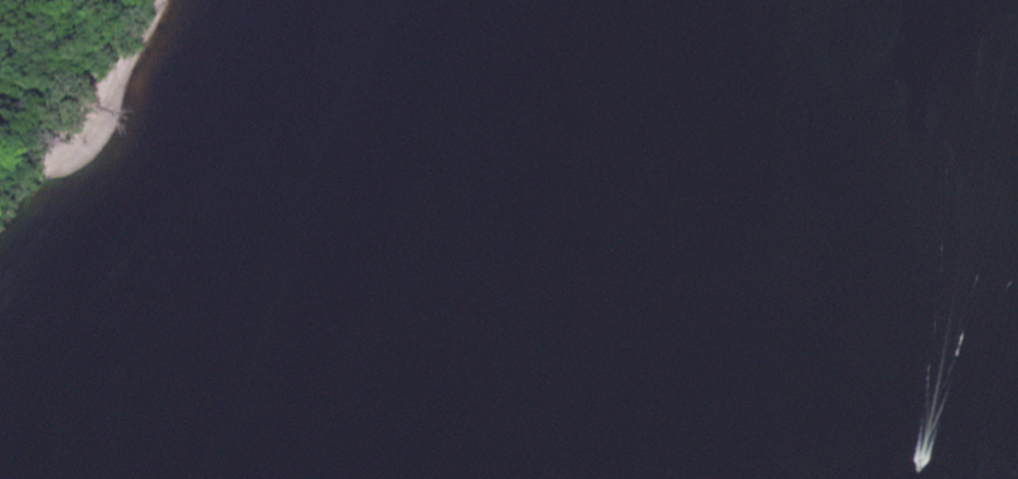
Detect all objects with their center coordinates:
river: (819, 239)

